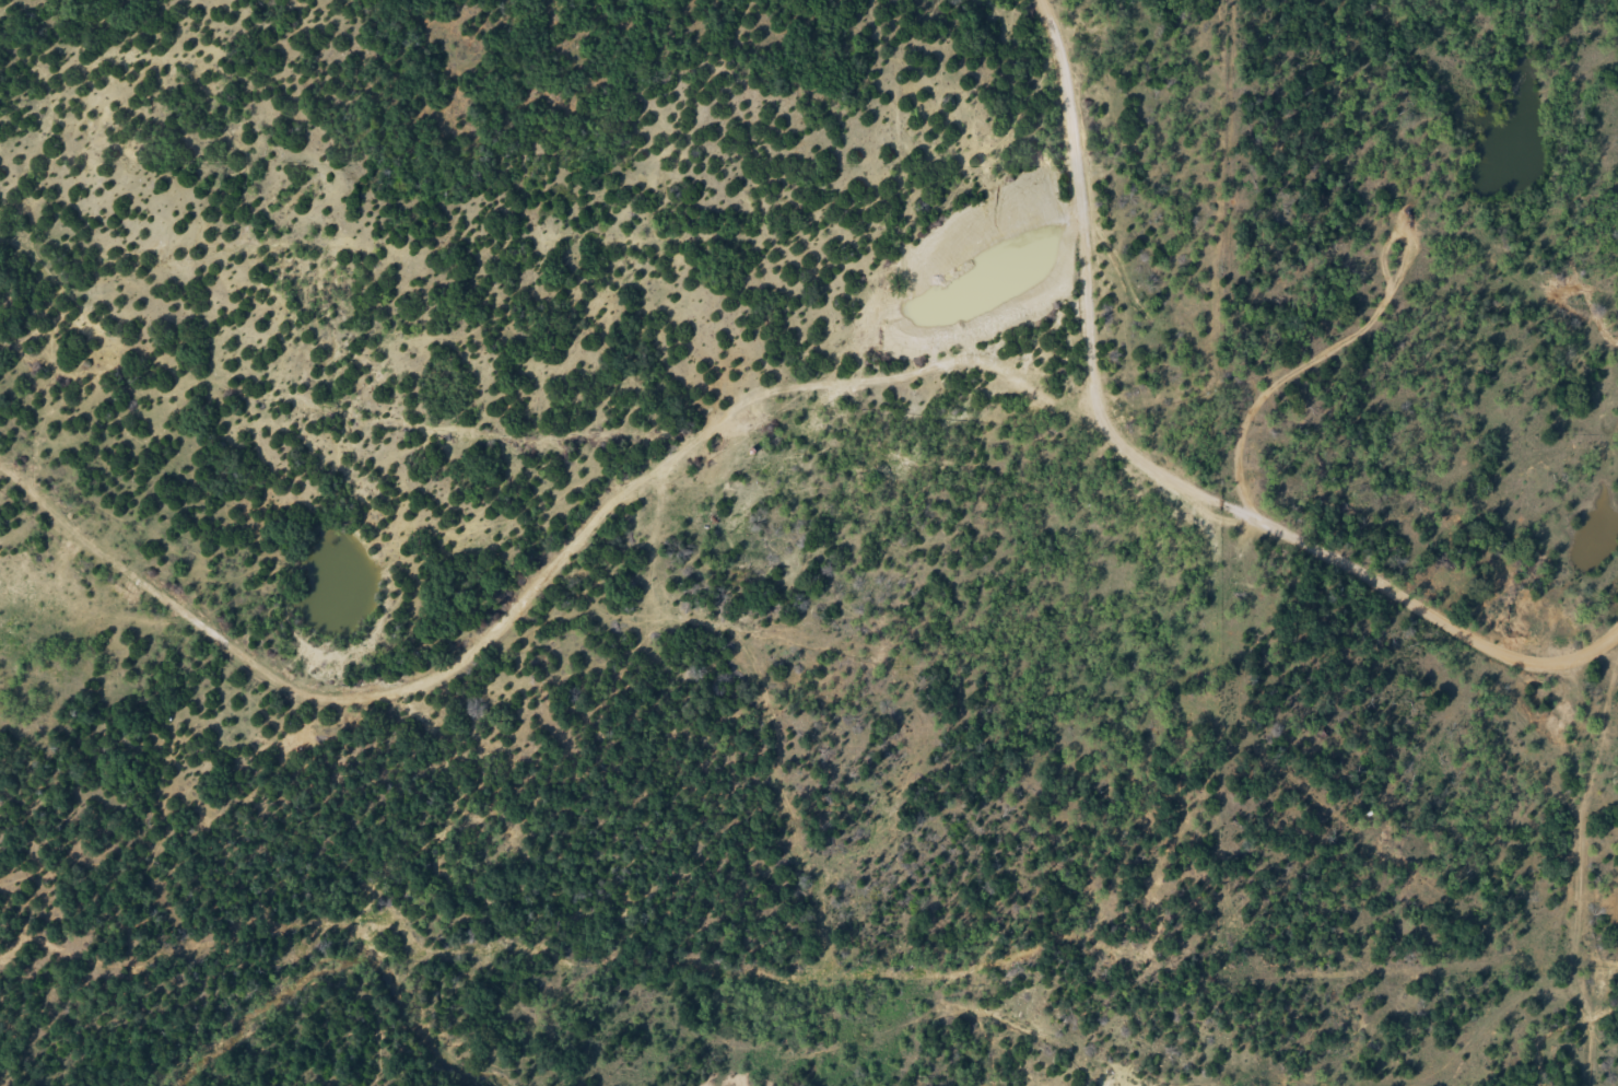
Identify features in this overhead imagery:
road: (1166, 469)

